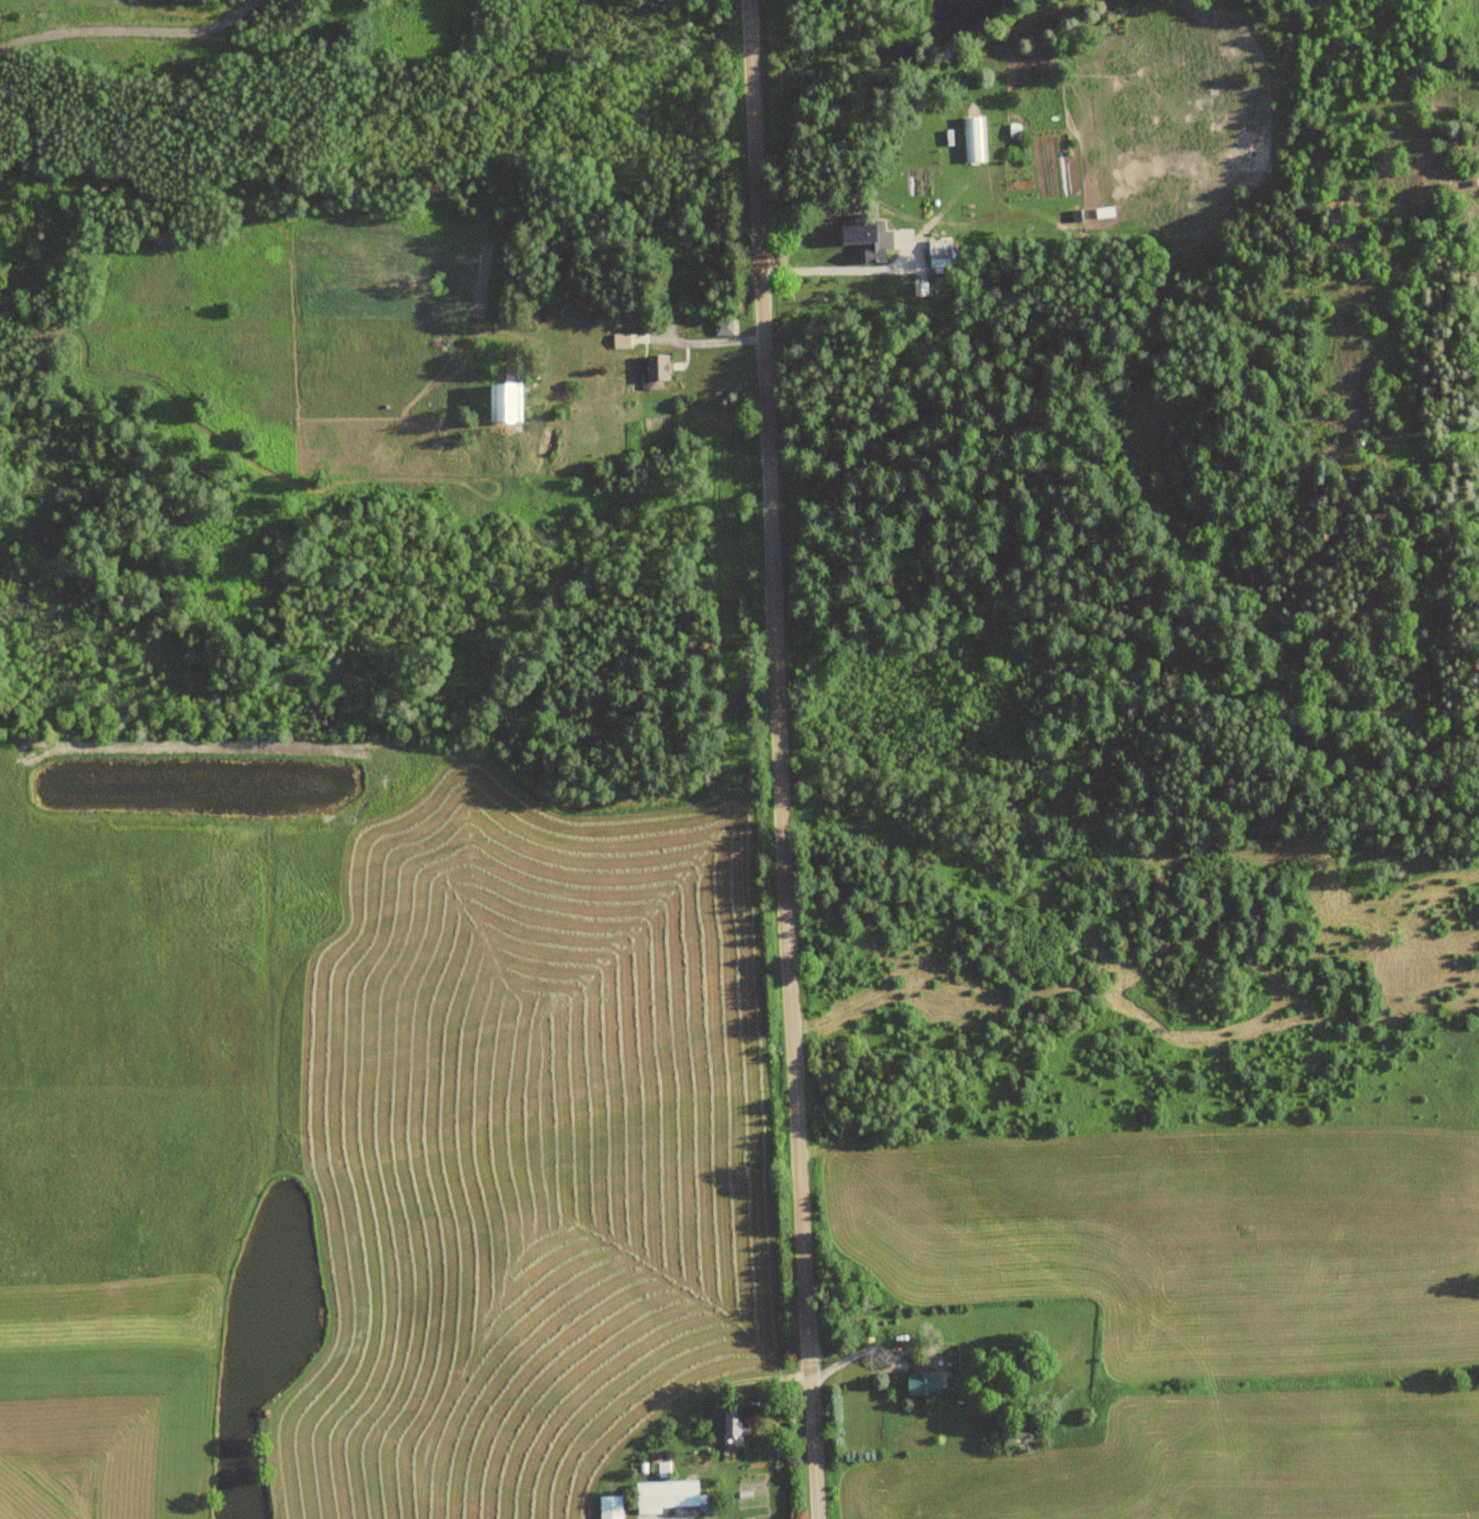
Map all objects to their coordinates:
building: (876, 243)
building: (941, 252)
building: (723, 326)
building: (621, 340)
building: (654, 372)
building: (502, 402)
road: (782, 759)
building: (921, 1355)
building: (921, 1384)
building: (733, 1428)
building: (664, 1495)
building: (609, 1507)

